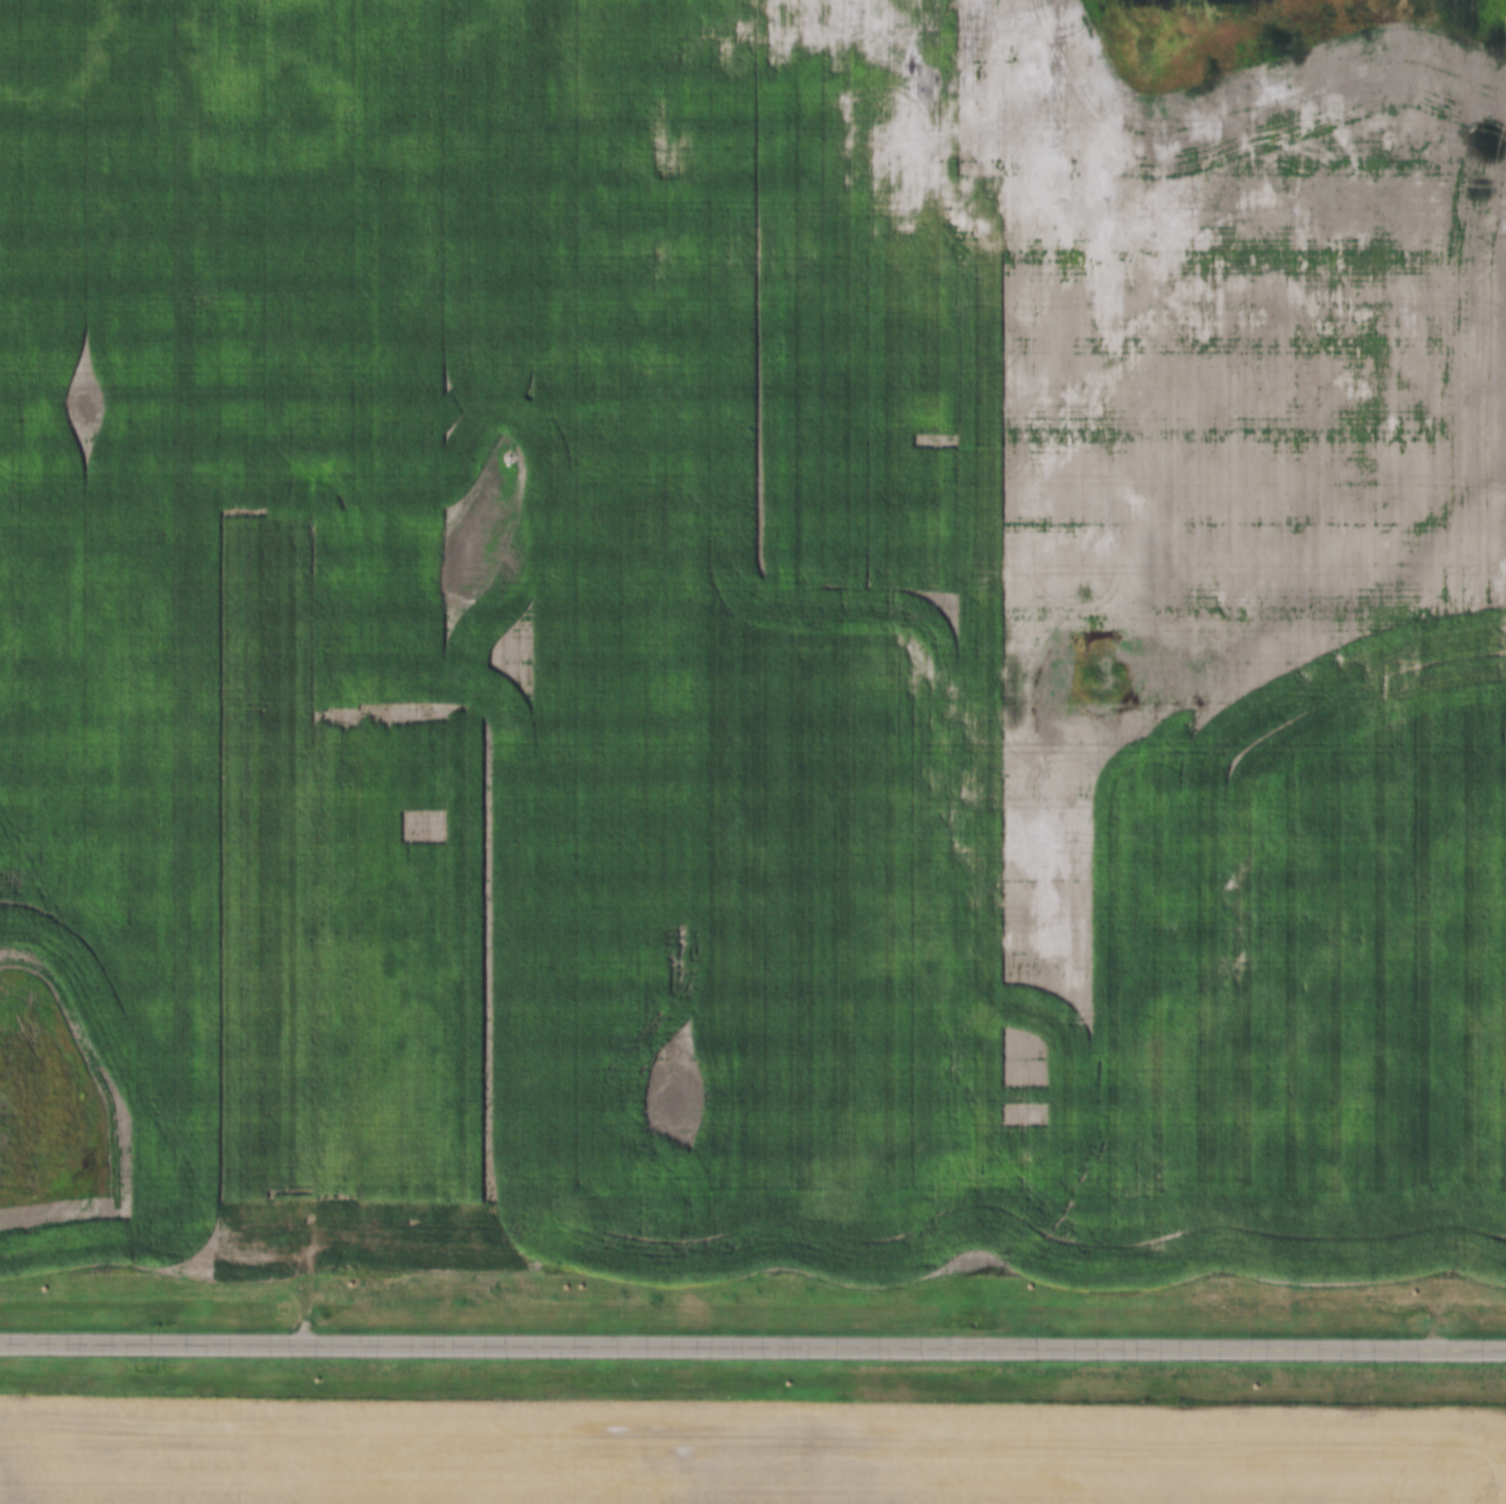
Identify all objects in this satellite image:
road: (752, 1346)

